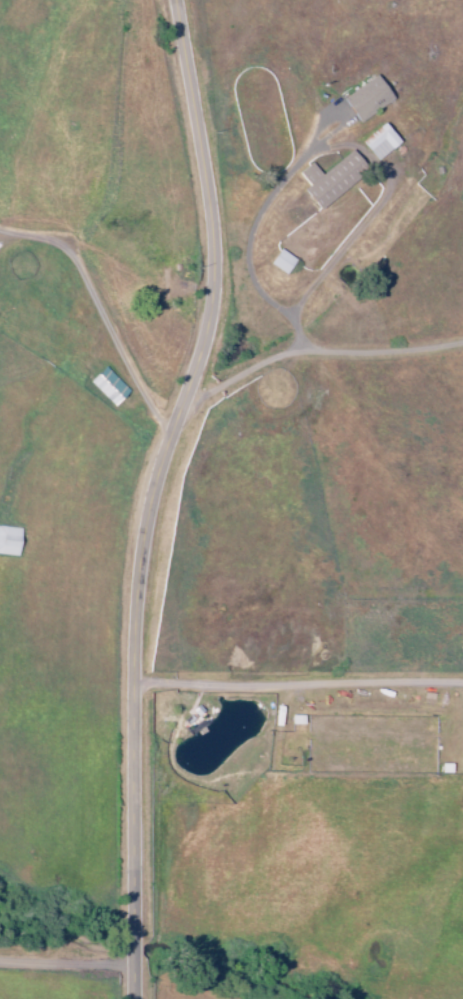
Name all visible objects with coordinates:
building: (365, 98)
building: (379, 142)
building: (329, 178)
building: (280, 261)
road: (103, 314)
road: (321, 356)
building: (107, 386)
road: (158, 494)
road: (68, 965)

